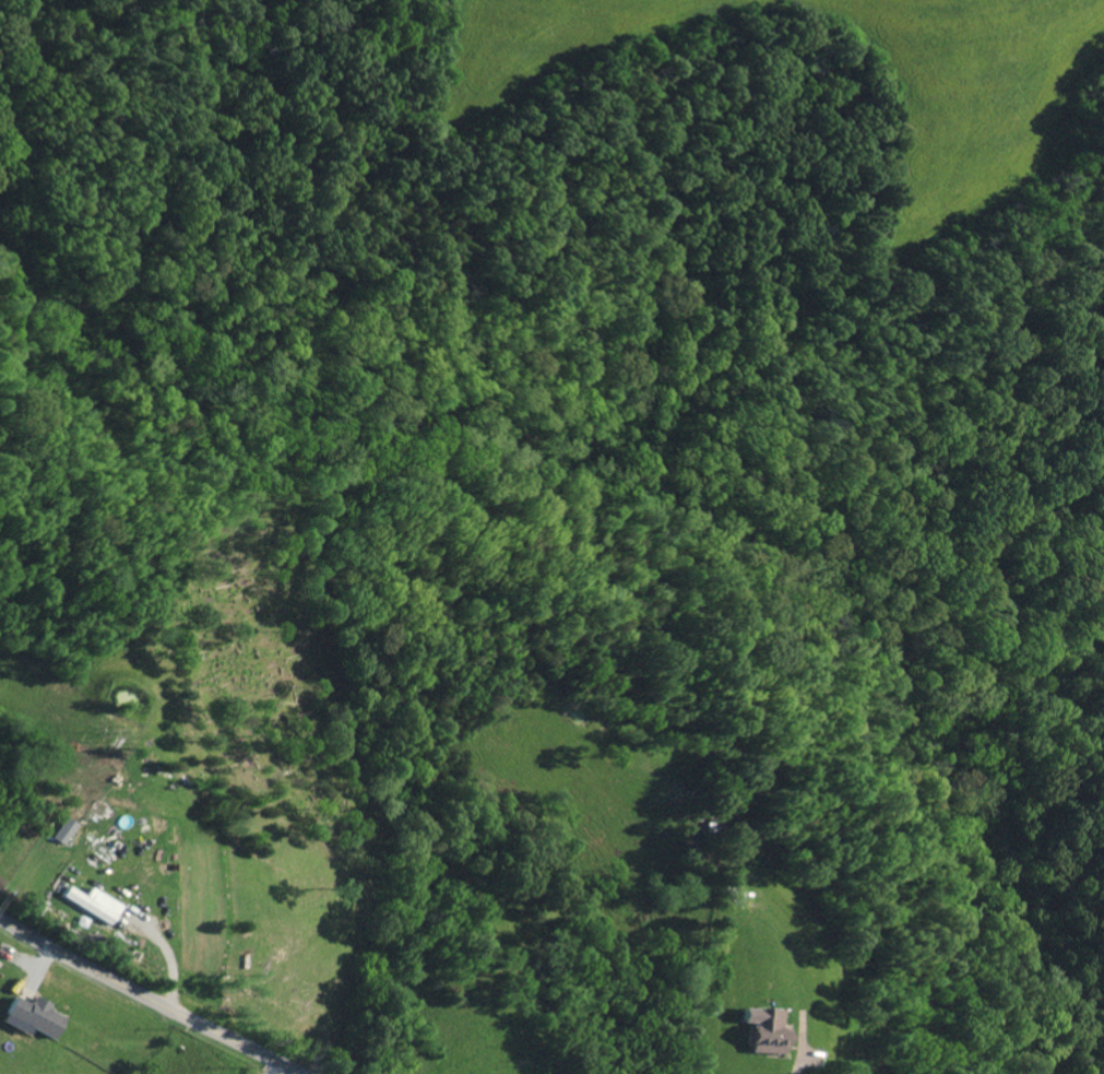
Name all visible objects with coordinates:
building: (68, 829)
building: (94, 901)
road: (142, 999)
building: (39, 1014)
building: (764, 1029)
road: (793, 1061)

